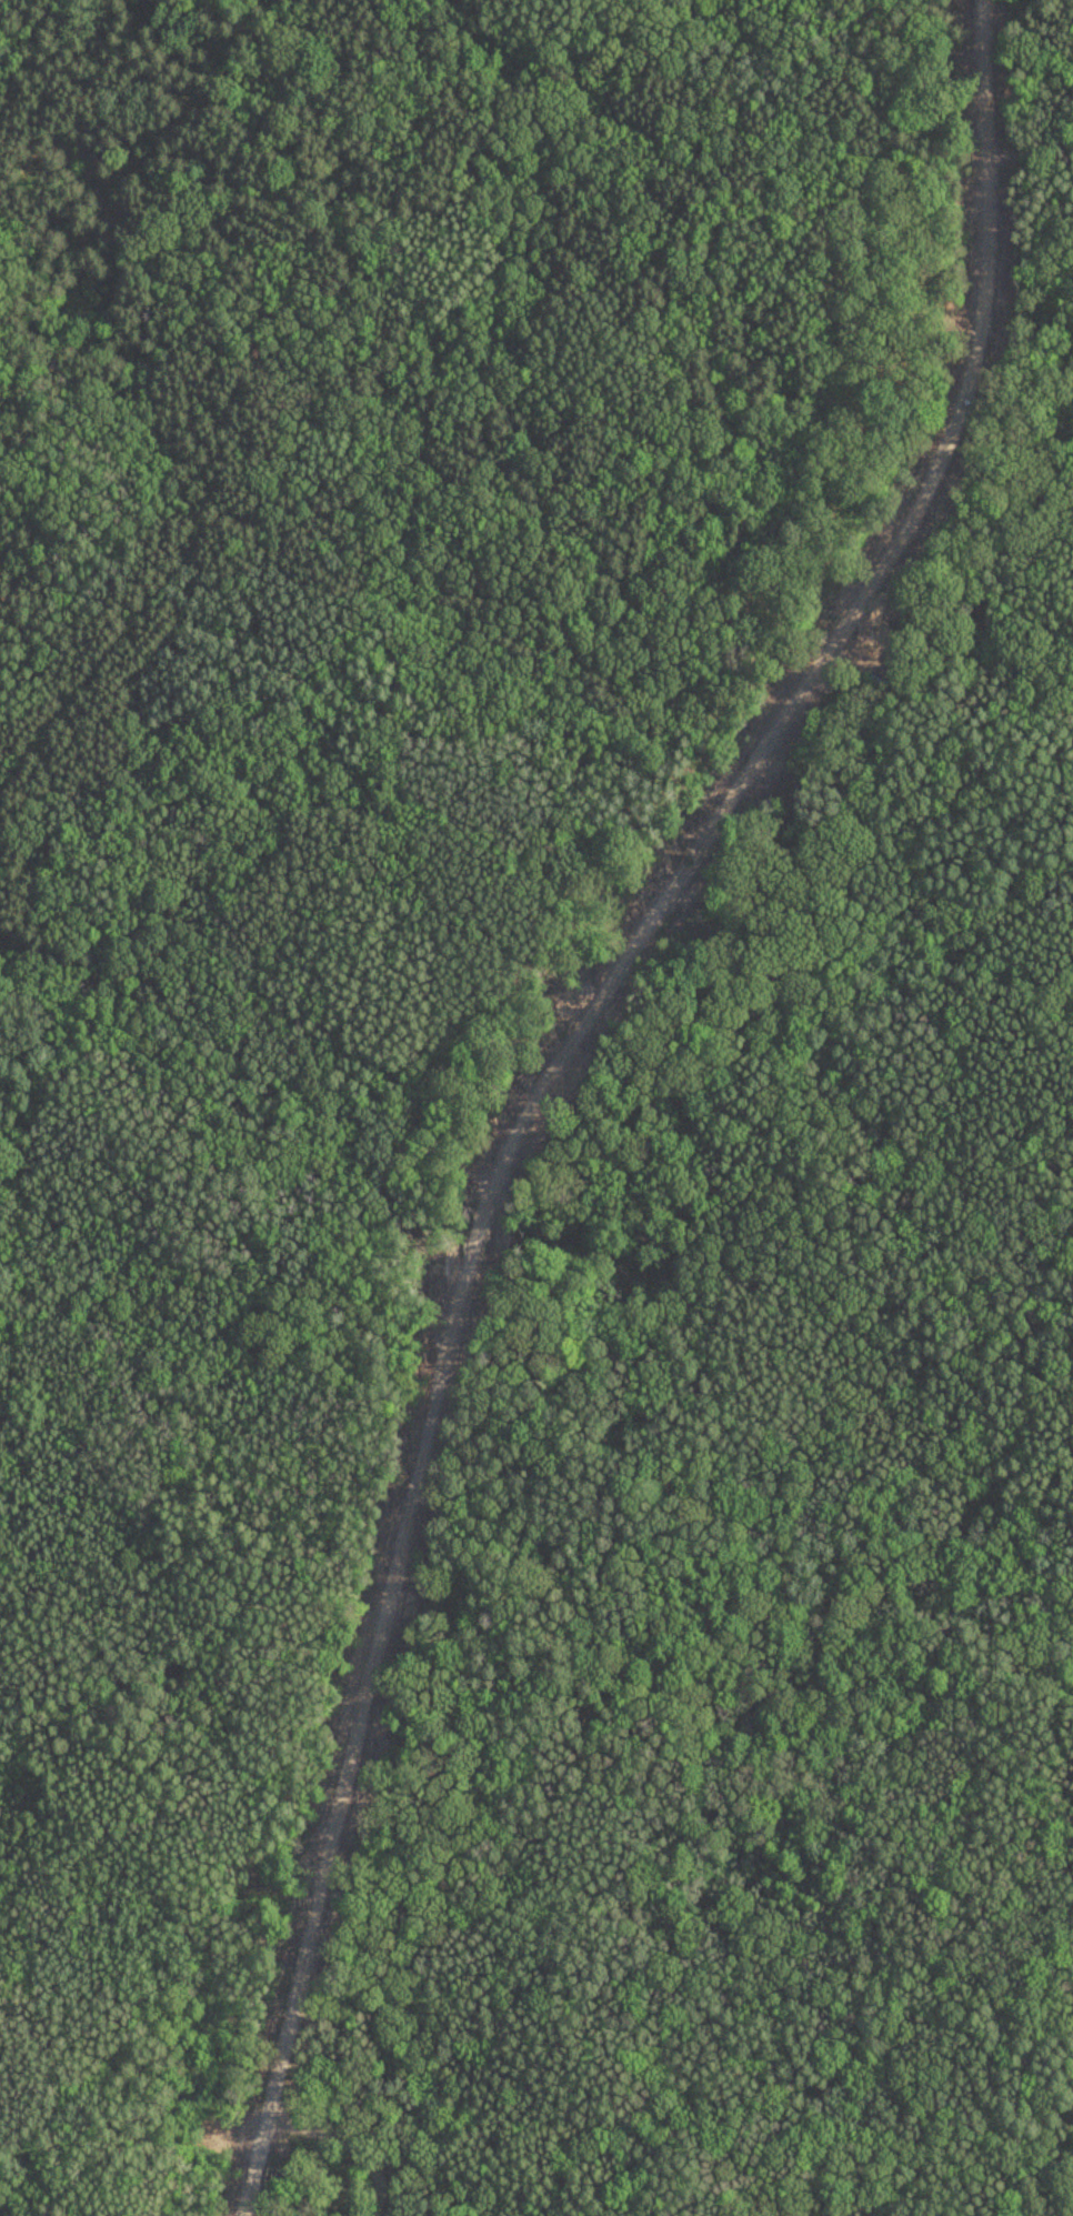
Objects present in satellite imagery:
road: (244, 1064)
road: (554, 1070)
park: (536, 1107)

